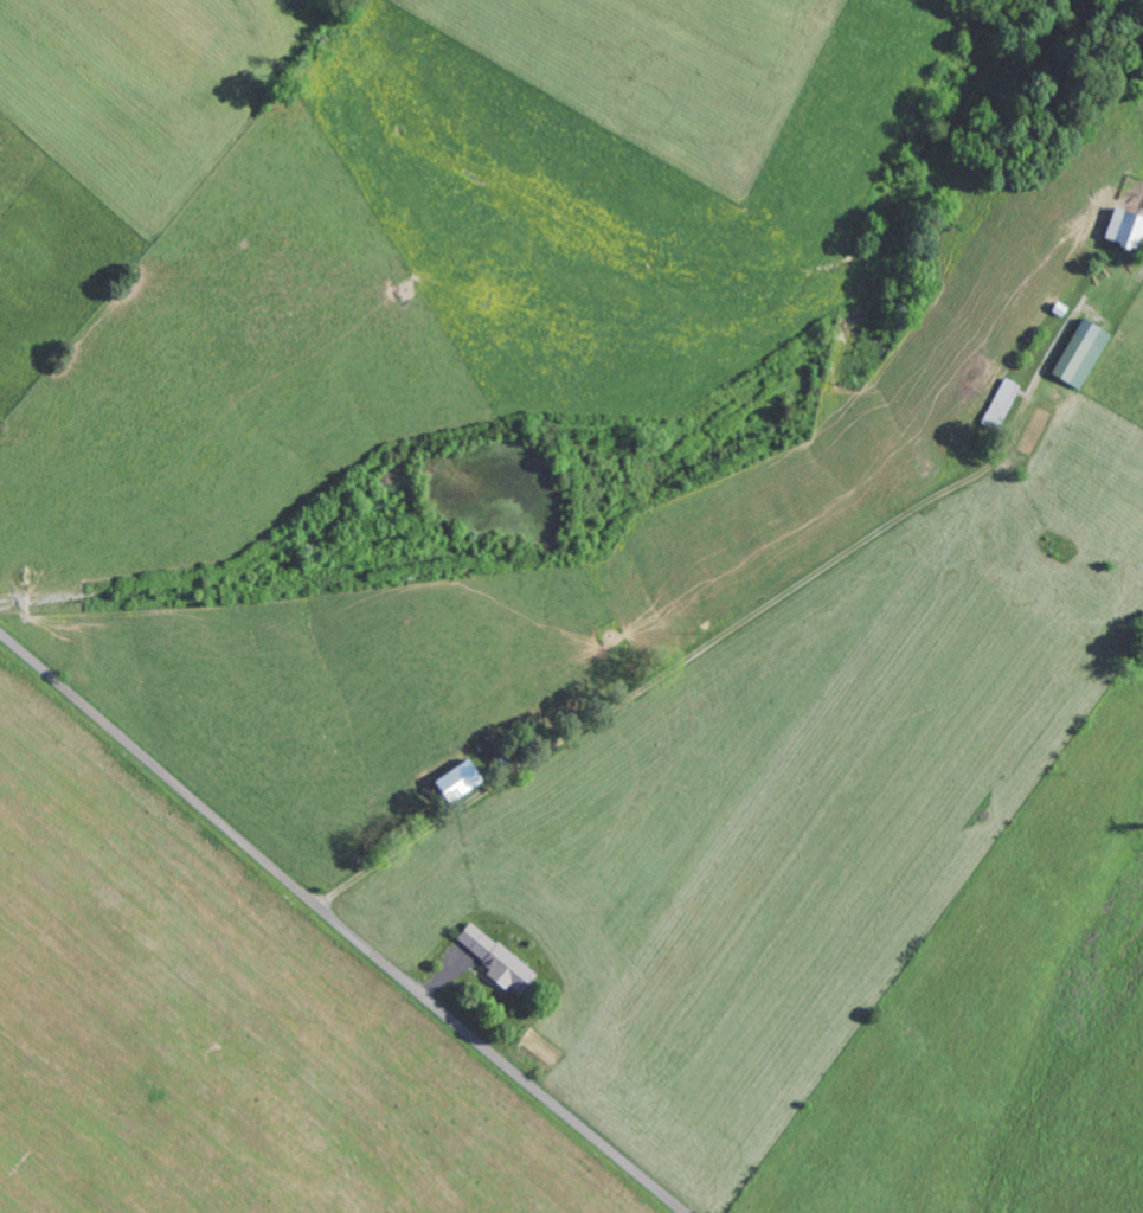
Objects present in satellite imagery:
building: (1125, 226)
building: (1081, 352)
road: (704, 657)
building: (457, 779)
road: (340, 925)
building: (497, 960)

